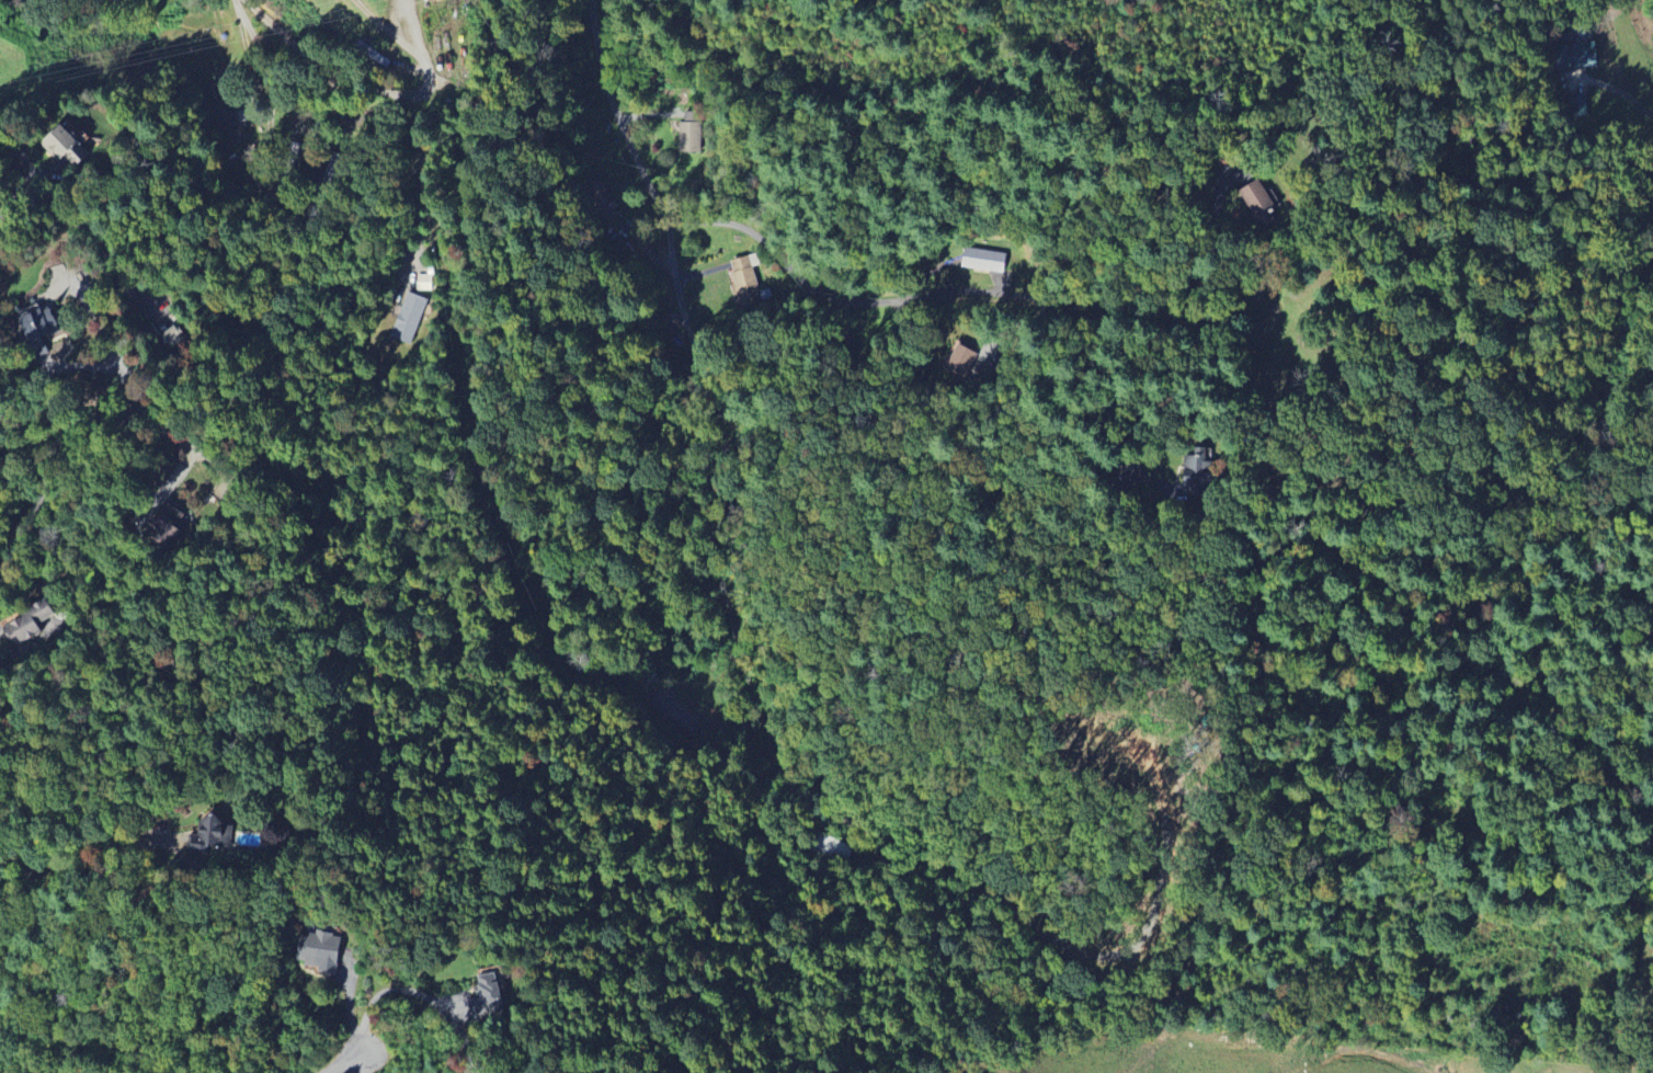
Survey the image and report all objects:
building: (1573, 53)
road: (380, 90)
road: (1621, 95)
road: (452, 128)
building: (65, 146)
building: (600, 197)
building: (1261, 202)
road: (76, 220)
building: (983, 260)
building: (743, 283)
road: (810, 284)
road: (686, 307)
building: (408, 318)
building: (669, 322)
building: (38, 330)
building: (173, 336)
building: (960, 362)
road: (116, 418)
building: (1194, 470)
road: (27, 516)
building: (168, 524)
road: (713, 524)
building: (27, 624)
road: (29, 642)
building: (672, 714)
road: (763, 754)
road: (790, 772)
building: (212, 834)
building: (832, 848)
road: (84, 860)
building: (320, 950)
road: (413, 991)
building: (487, 996)
road: (347, 1064)
road: (470, 1071)
road: (472, 1071)

